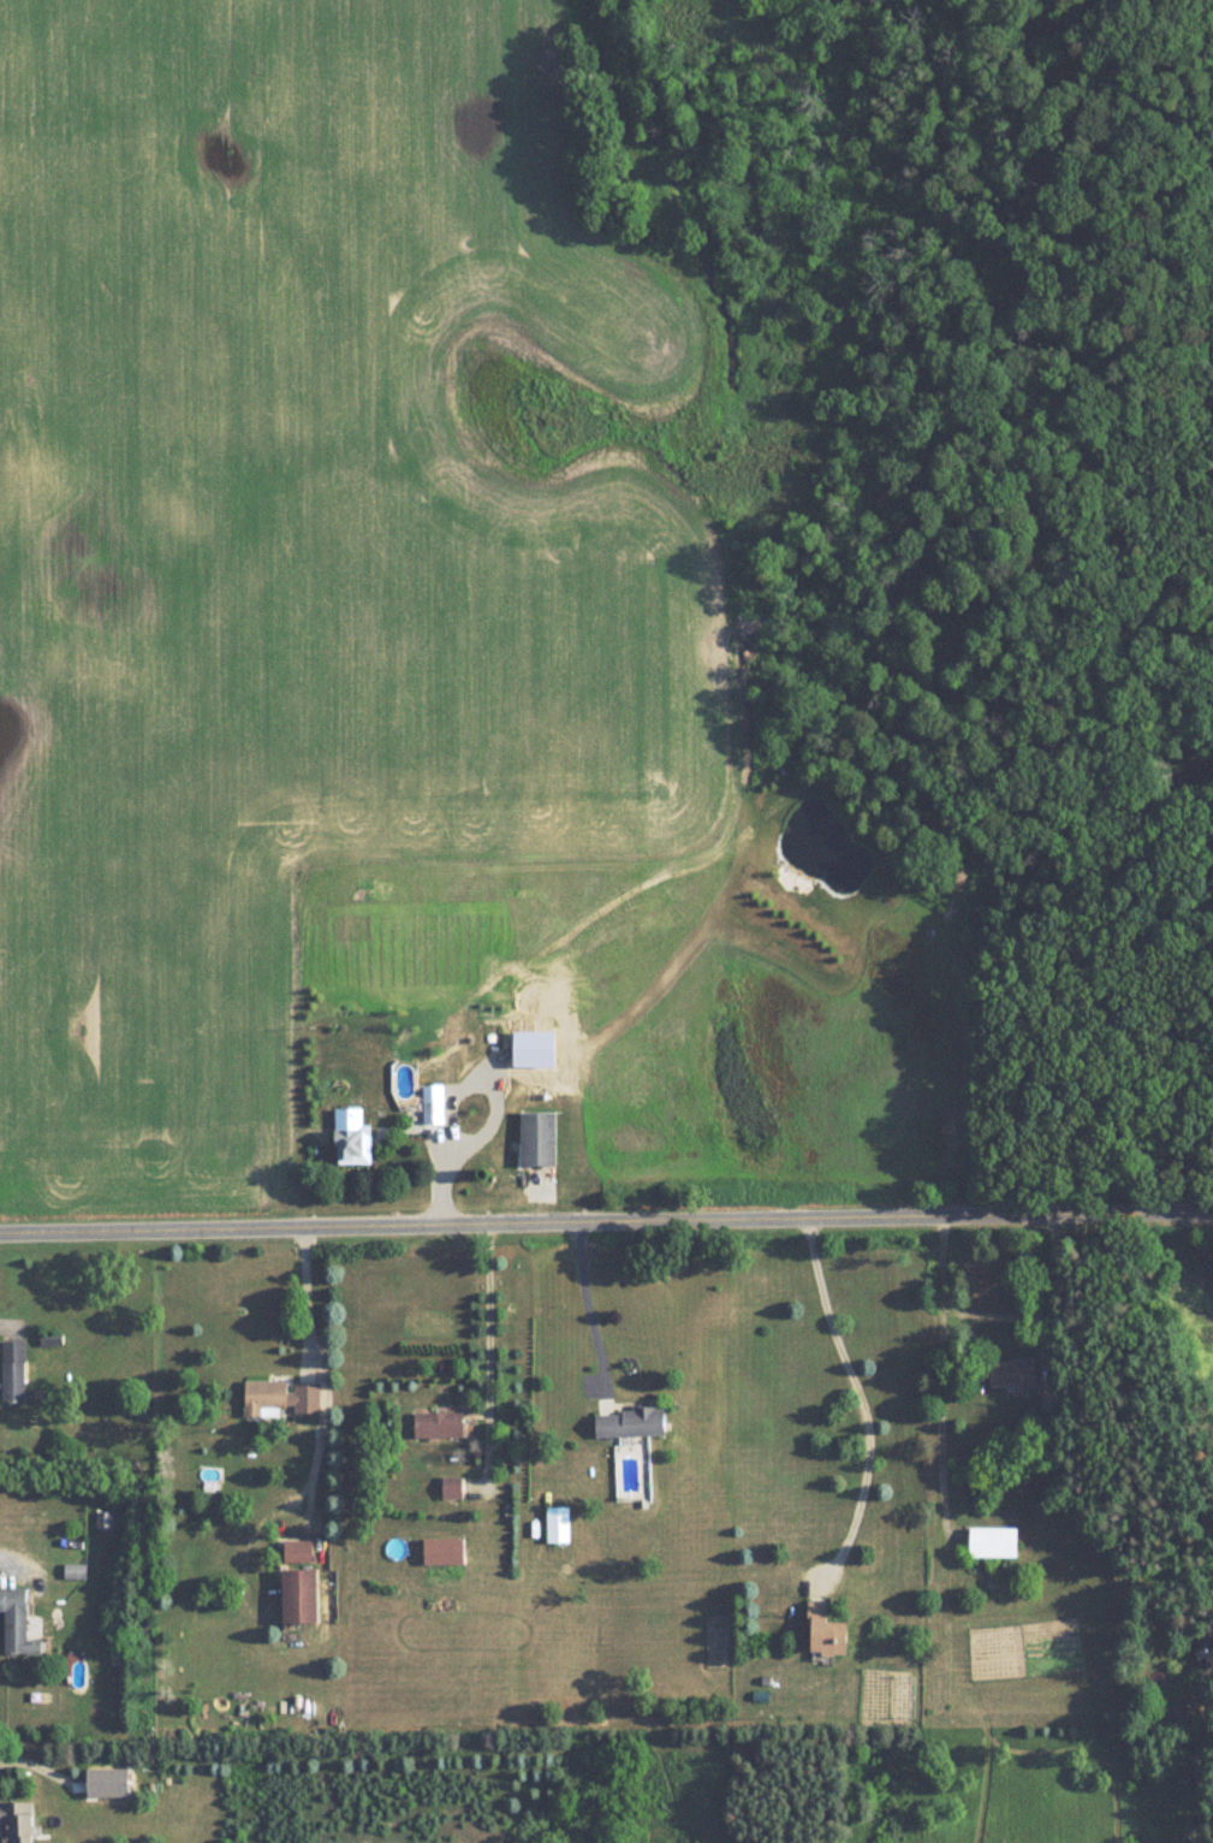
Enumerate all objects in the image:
park: (1094, 595)
building: (446, 1068)
building: (408, 1081)
building: (433, 1106)
building: (475, 1109)
building: (542, 1139)
building: (352, 1149)
road: (606, 1220)
road: (587, 1306)
road: (997, 1306)
road: (7, 1321)
road: (489, 1322)
building: (50, 1340)
road: (314, 1369)
building: (14, 1371)
building: (1019, 1375)
road: (858, 1397)
building: (1058, 1398)
building: (280, 1400)
building: (634, 1424)
building: (441, 1426)
building: (561, 1525)
road: (6, 1540)
building: (999, 1543)
building: (298, 1552)
building: (445, 1552)
building: (76, 1571)
building: (302, 1596)
building: (20, 1623)
building: (828, 1631)
building: (1207, 1654)
building: (20, 1820)

